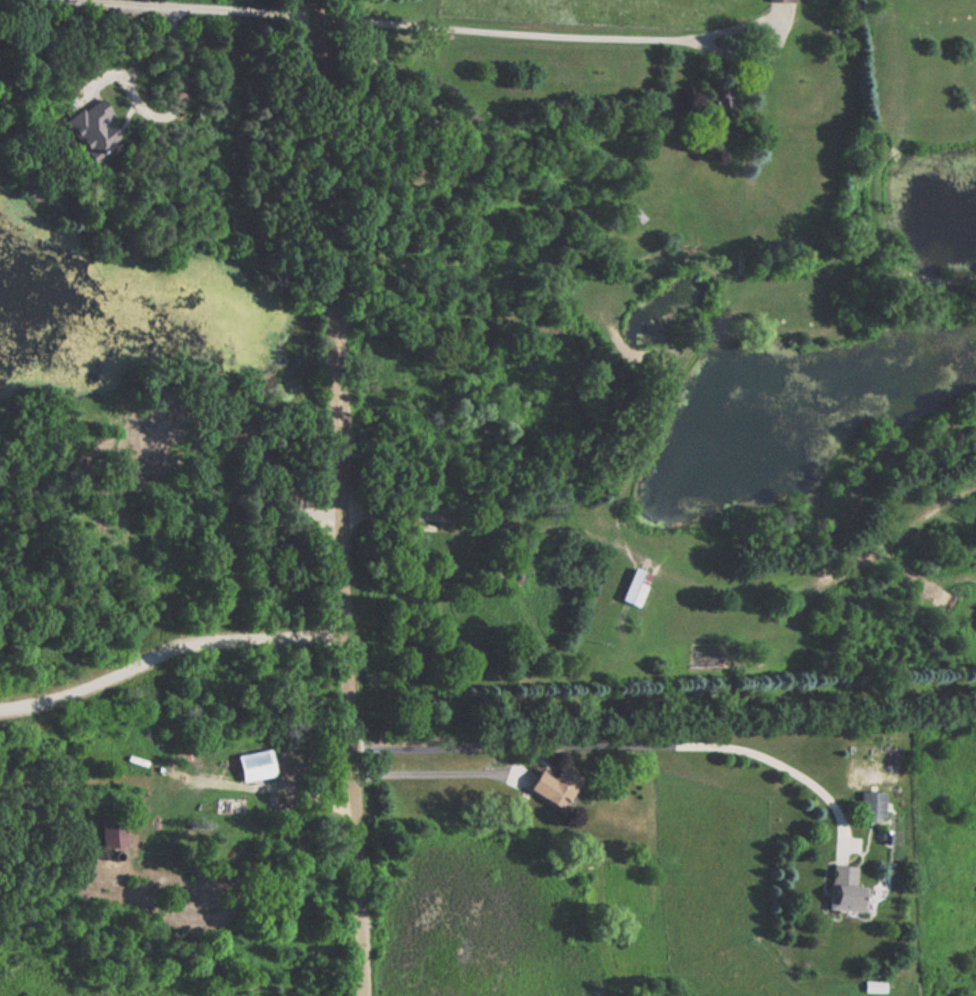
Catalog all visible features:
building: (781, 1)
road: (160, 9)
road: (597, 39)
road: (180, 118)
road: (336, 497)
building: (634, 586)
road: (168, 649)
road: (623, 744)
road: (439, 766)
building: (257, 769)
building: (550, 783)
building: (872, 804)
building: (846, 889)

